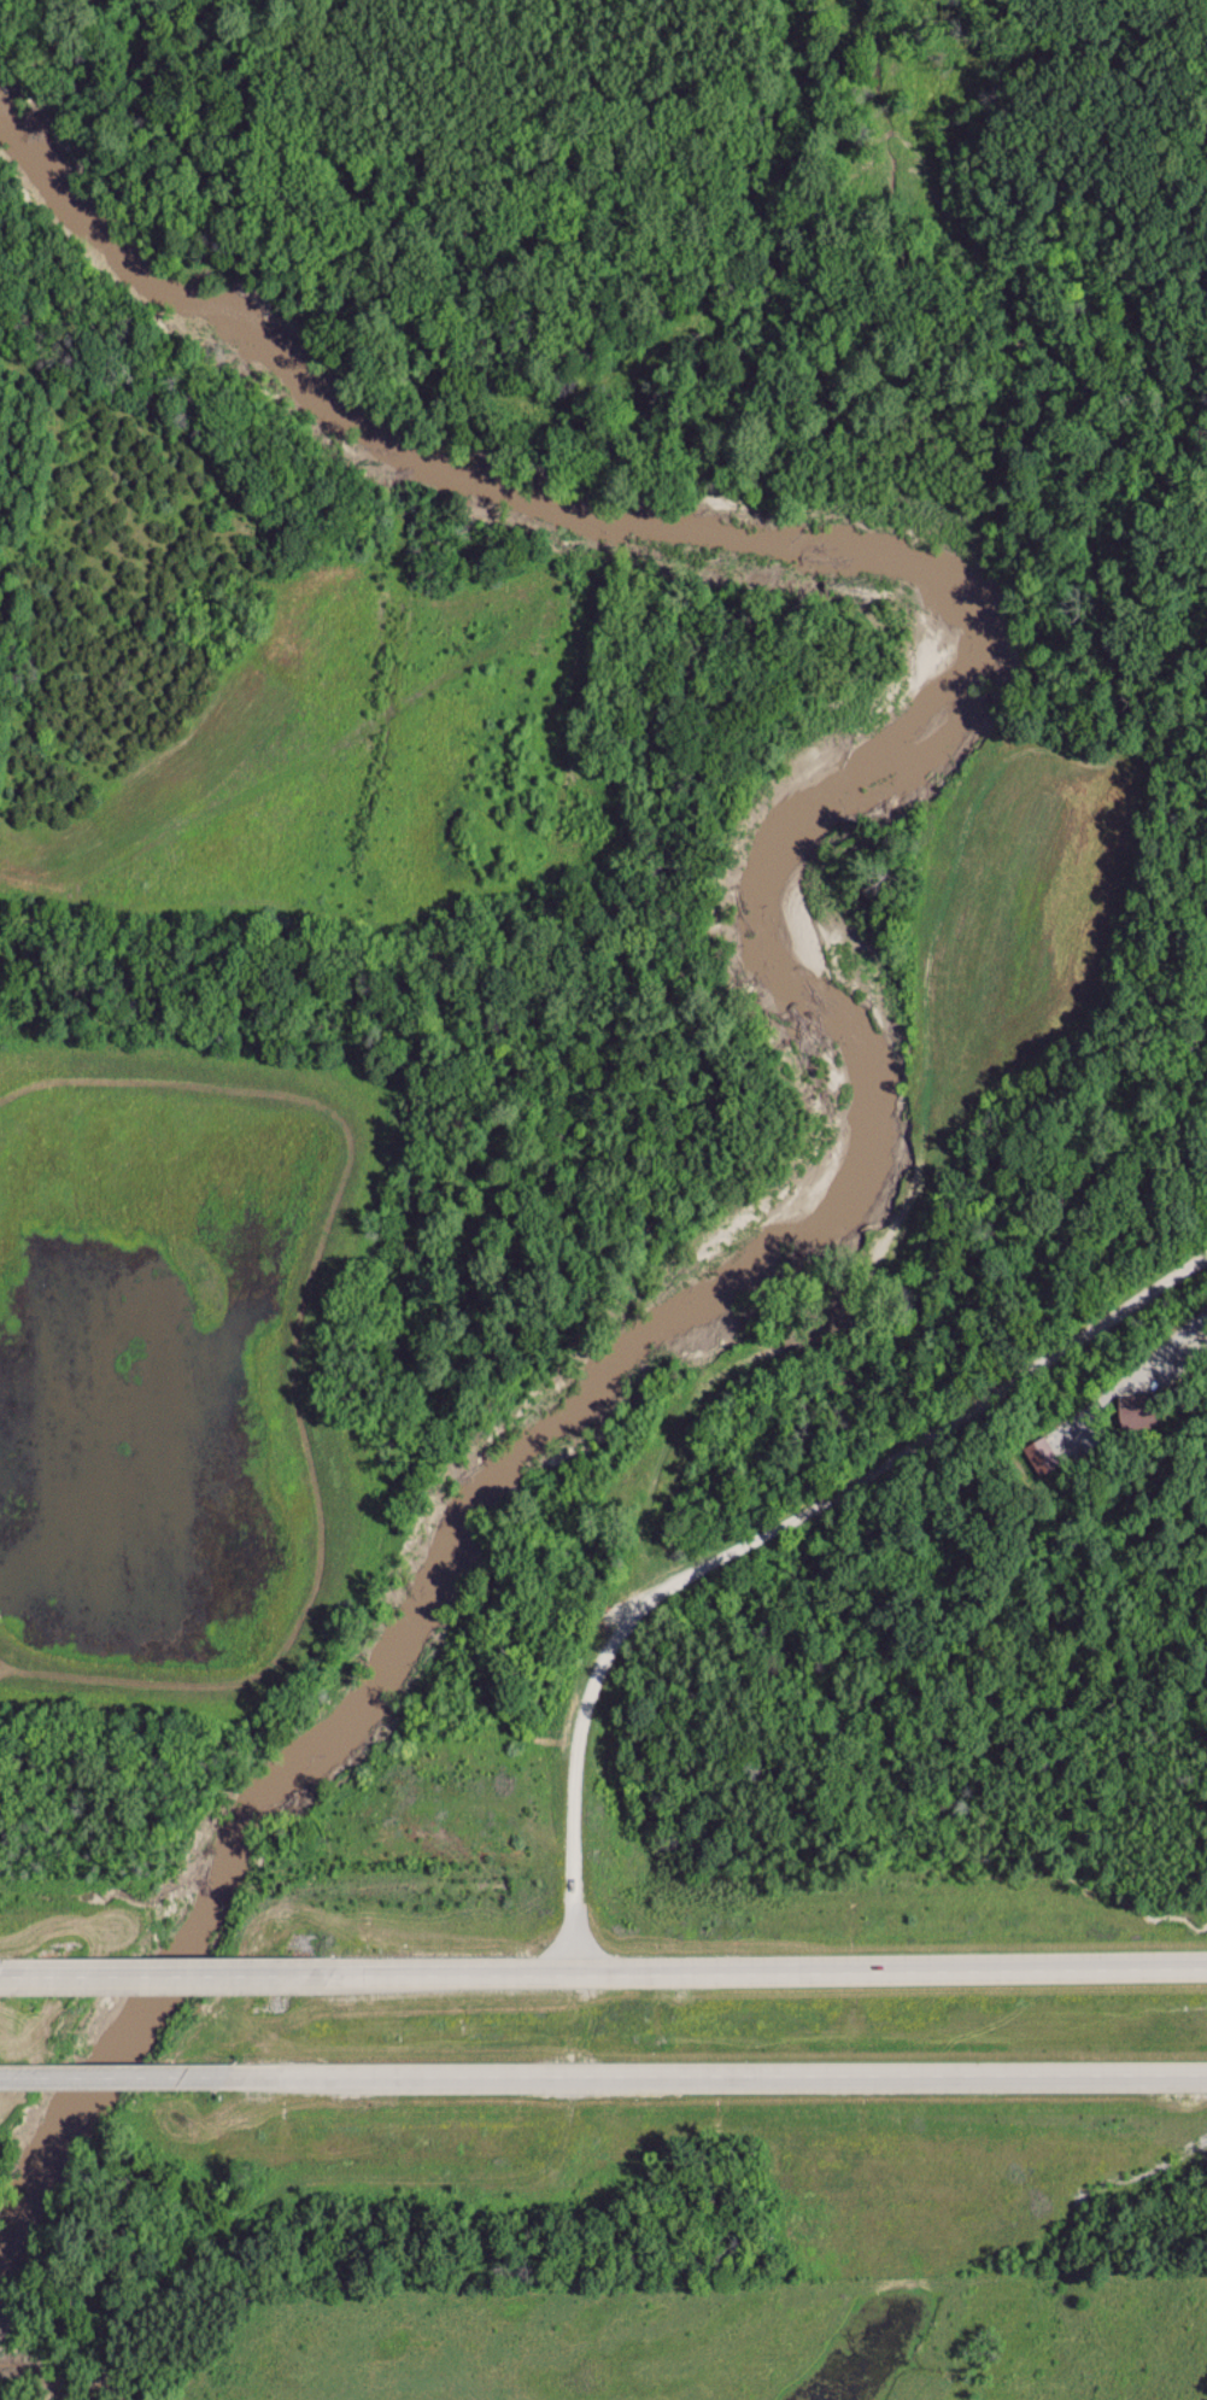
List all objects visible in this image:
river: (849, 953)
road: (763, 1534)
road: (891, 1971)
road: (174, 1973)
road: (443, 1973)
road: (18, 1974)
road: (128, 2073)
road: (725, 2073)
road: (6, 2074)
road: (566, 2139)
road: (335, 2181)

